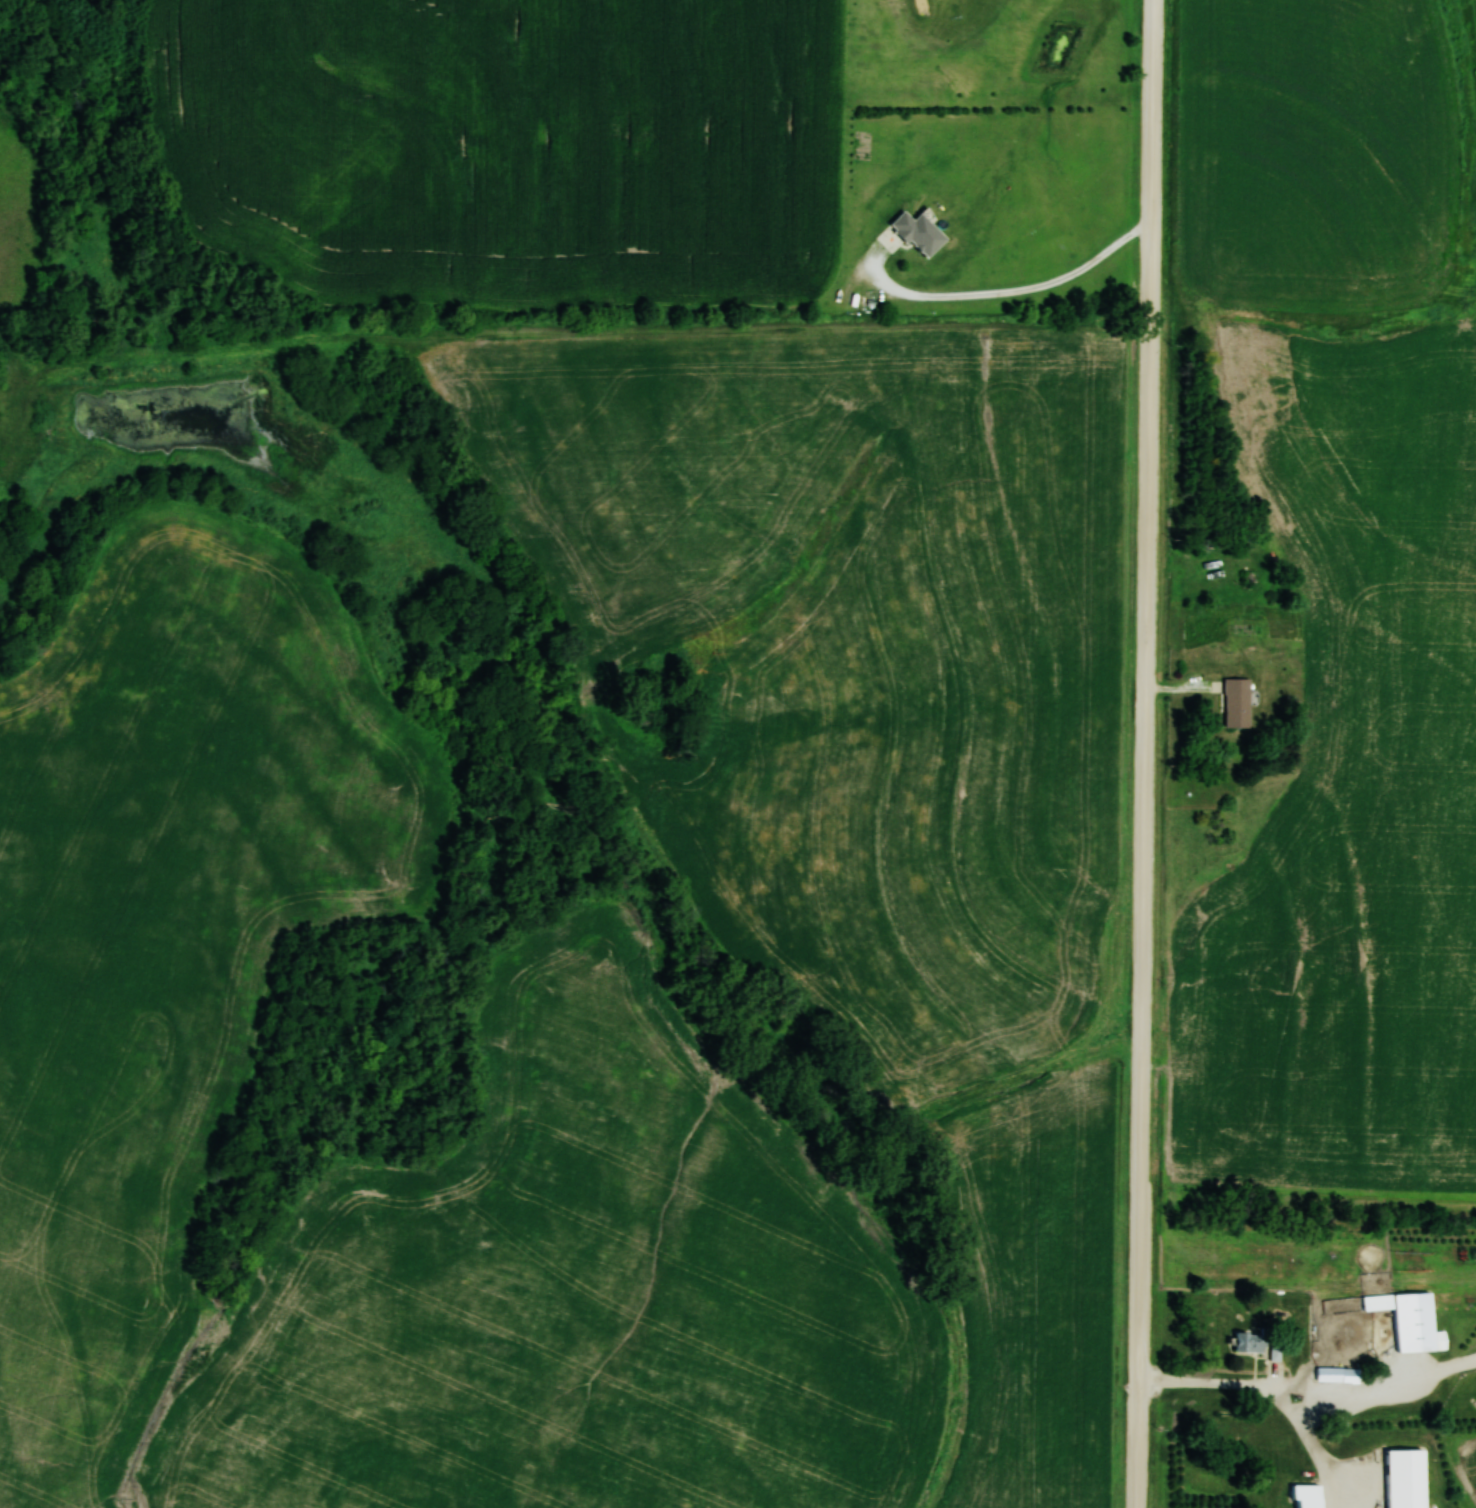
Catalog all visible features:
building: (918, 232)
building: (1236, 702)
road: (1146, 754)
building: (1410, 1320)
building: (1250, 1343)
building: (1338, 1375)
building: (1405, 1479)
building: (1307, 1496)

